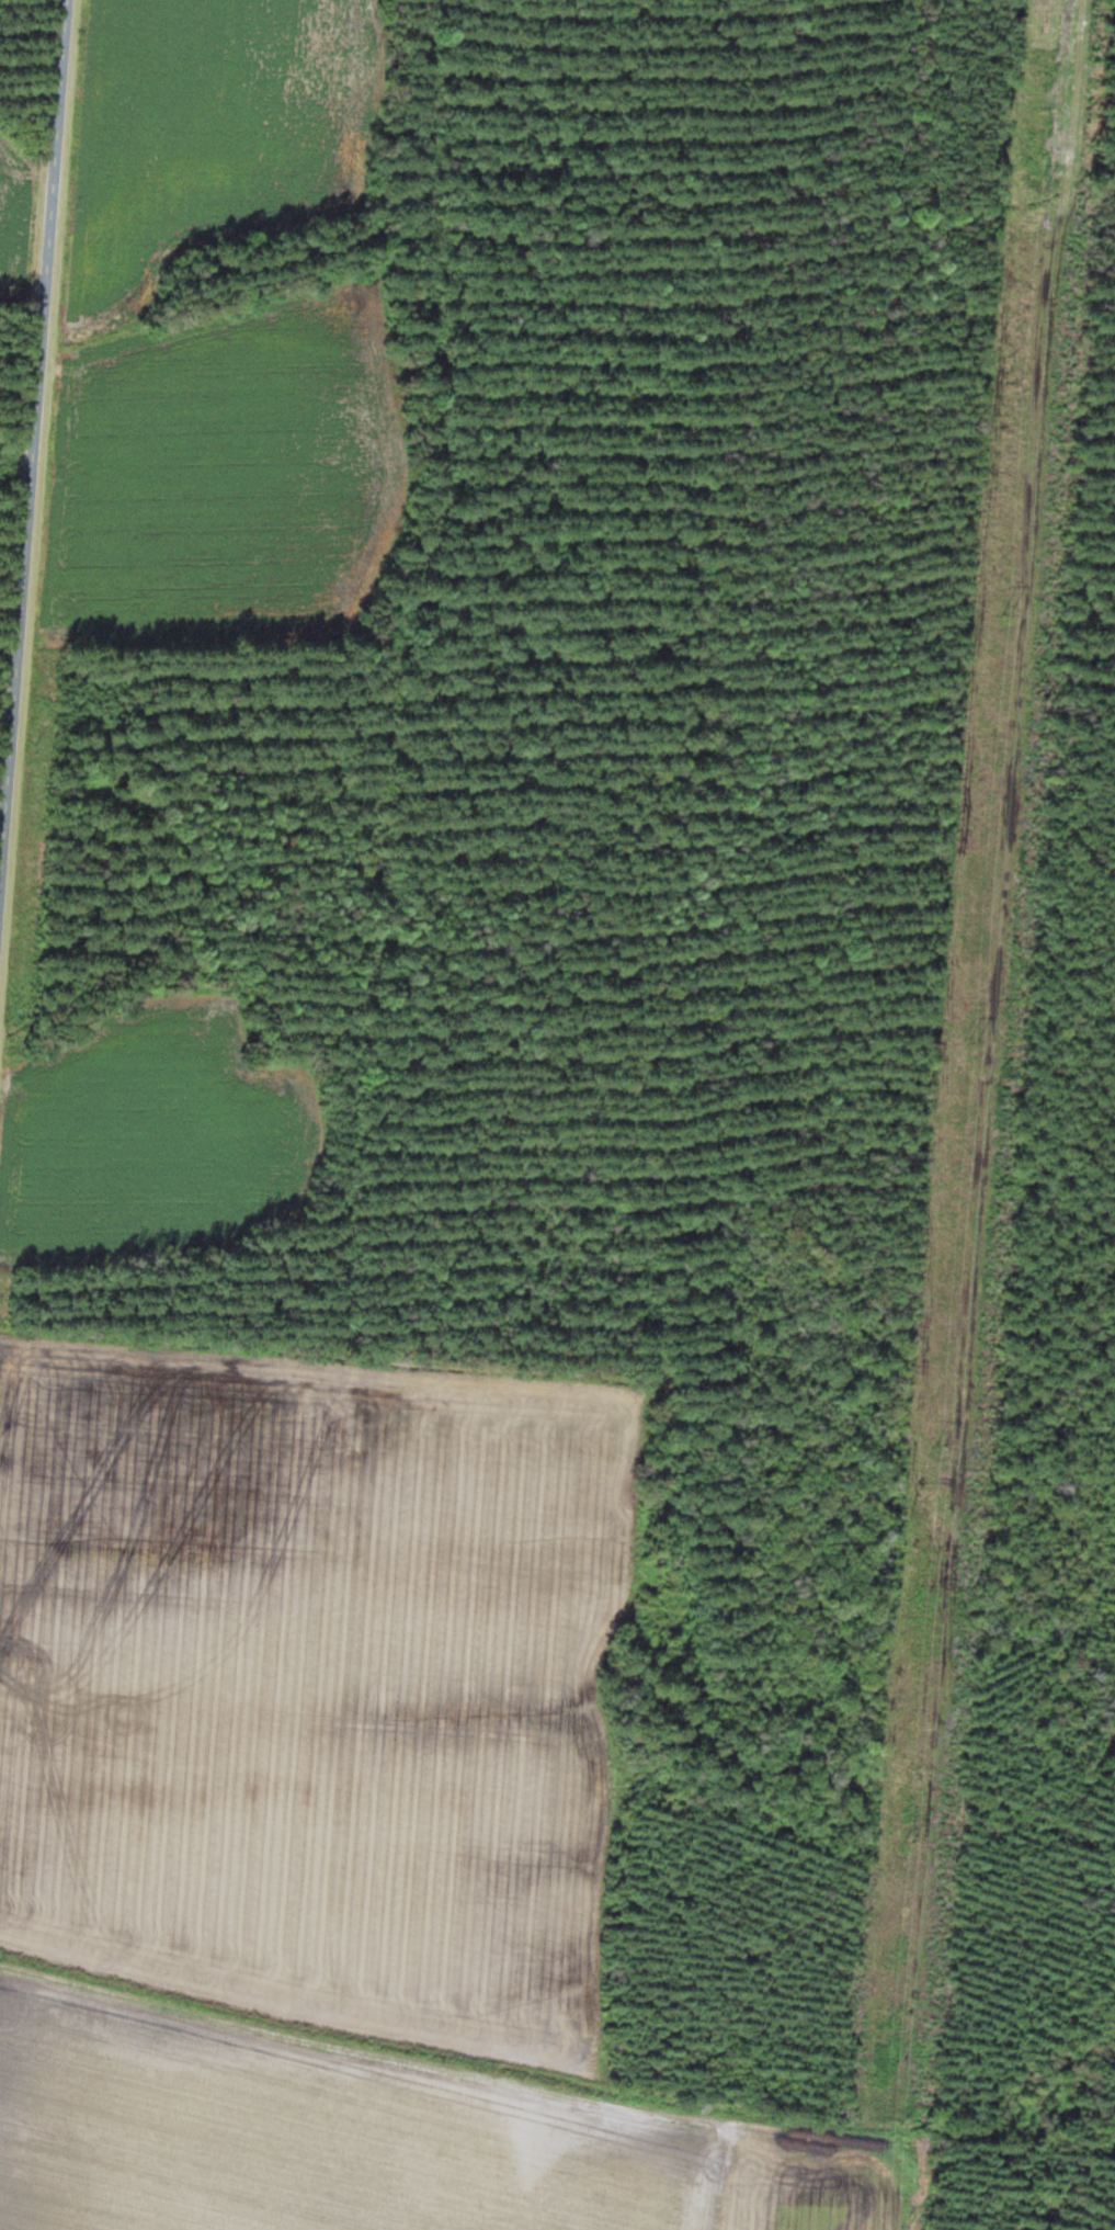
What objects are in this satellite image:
power tower: (1042, 190)
road: (38, 486)
power tower: (1008, 614)
power tower: (974, 1040)
power tower: (942, 1445)
power tower: (910, 1842)

